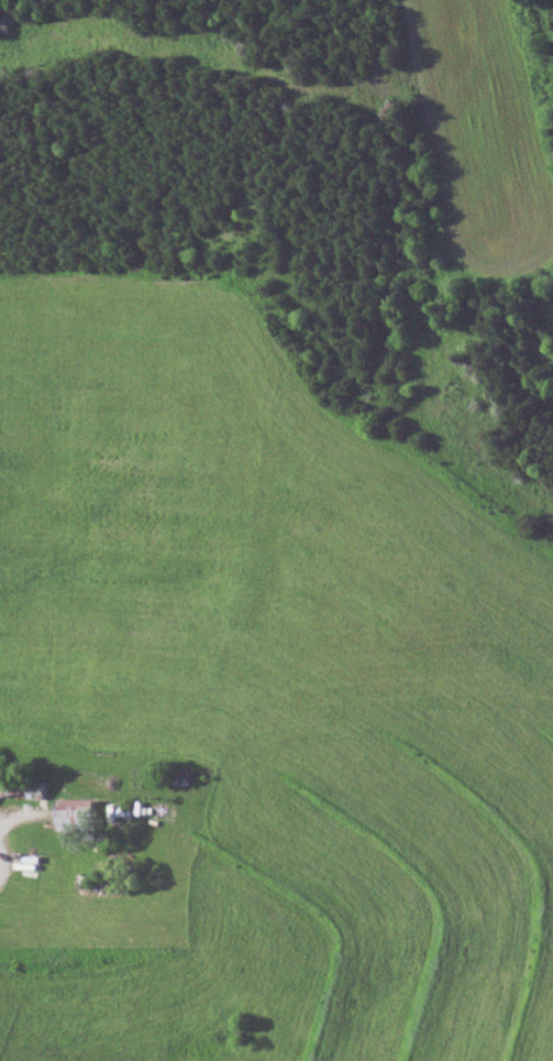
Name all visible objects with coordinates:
building: (22, 787)
building: (75, 817)

